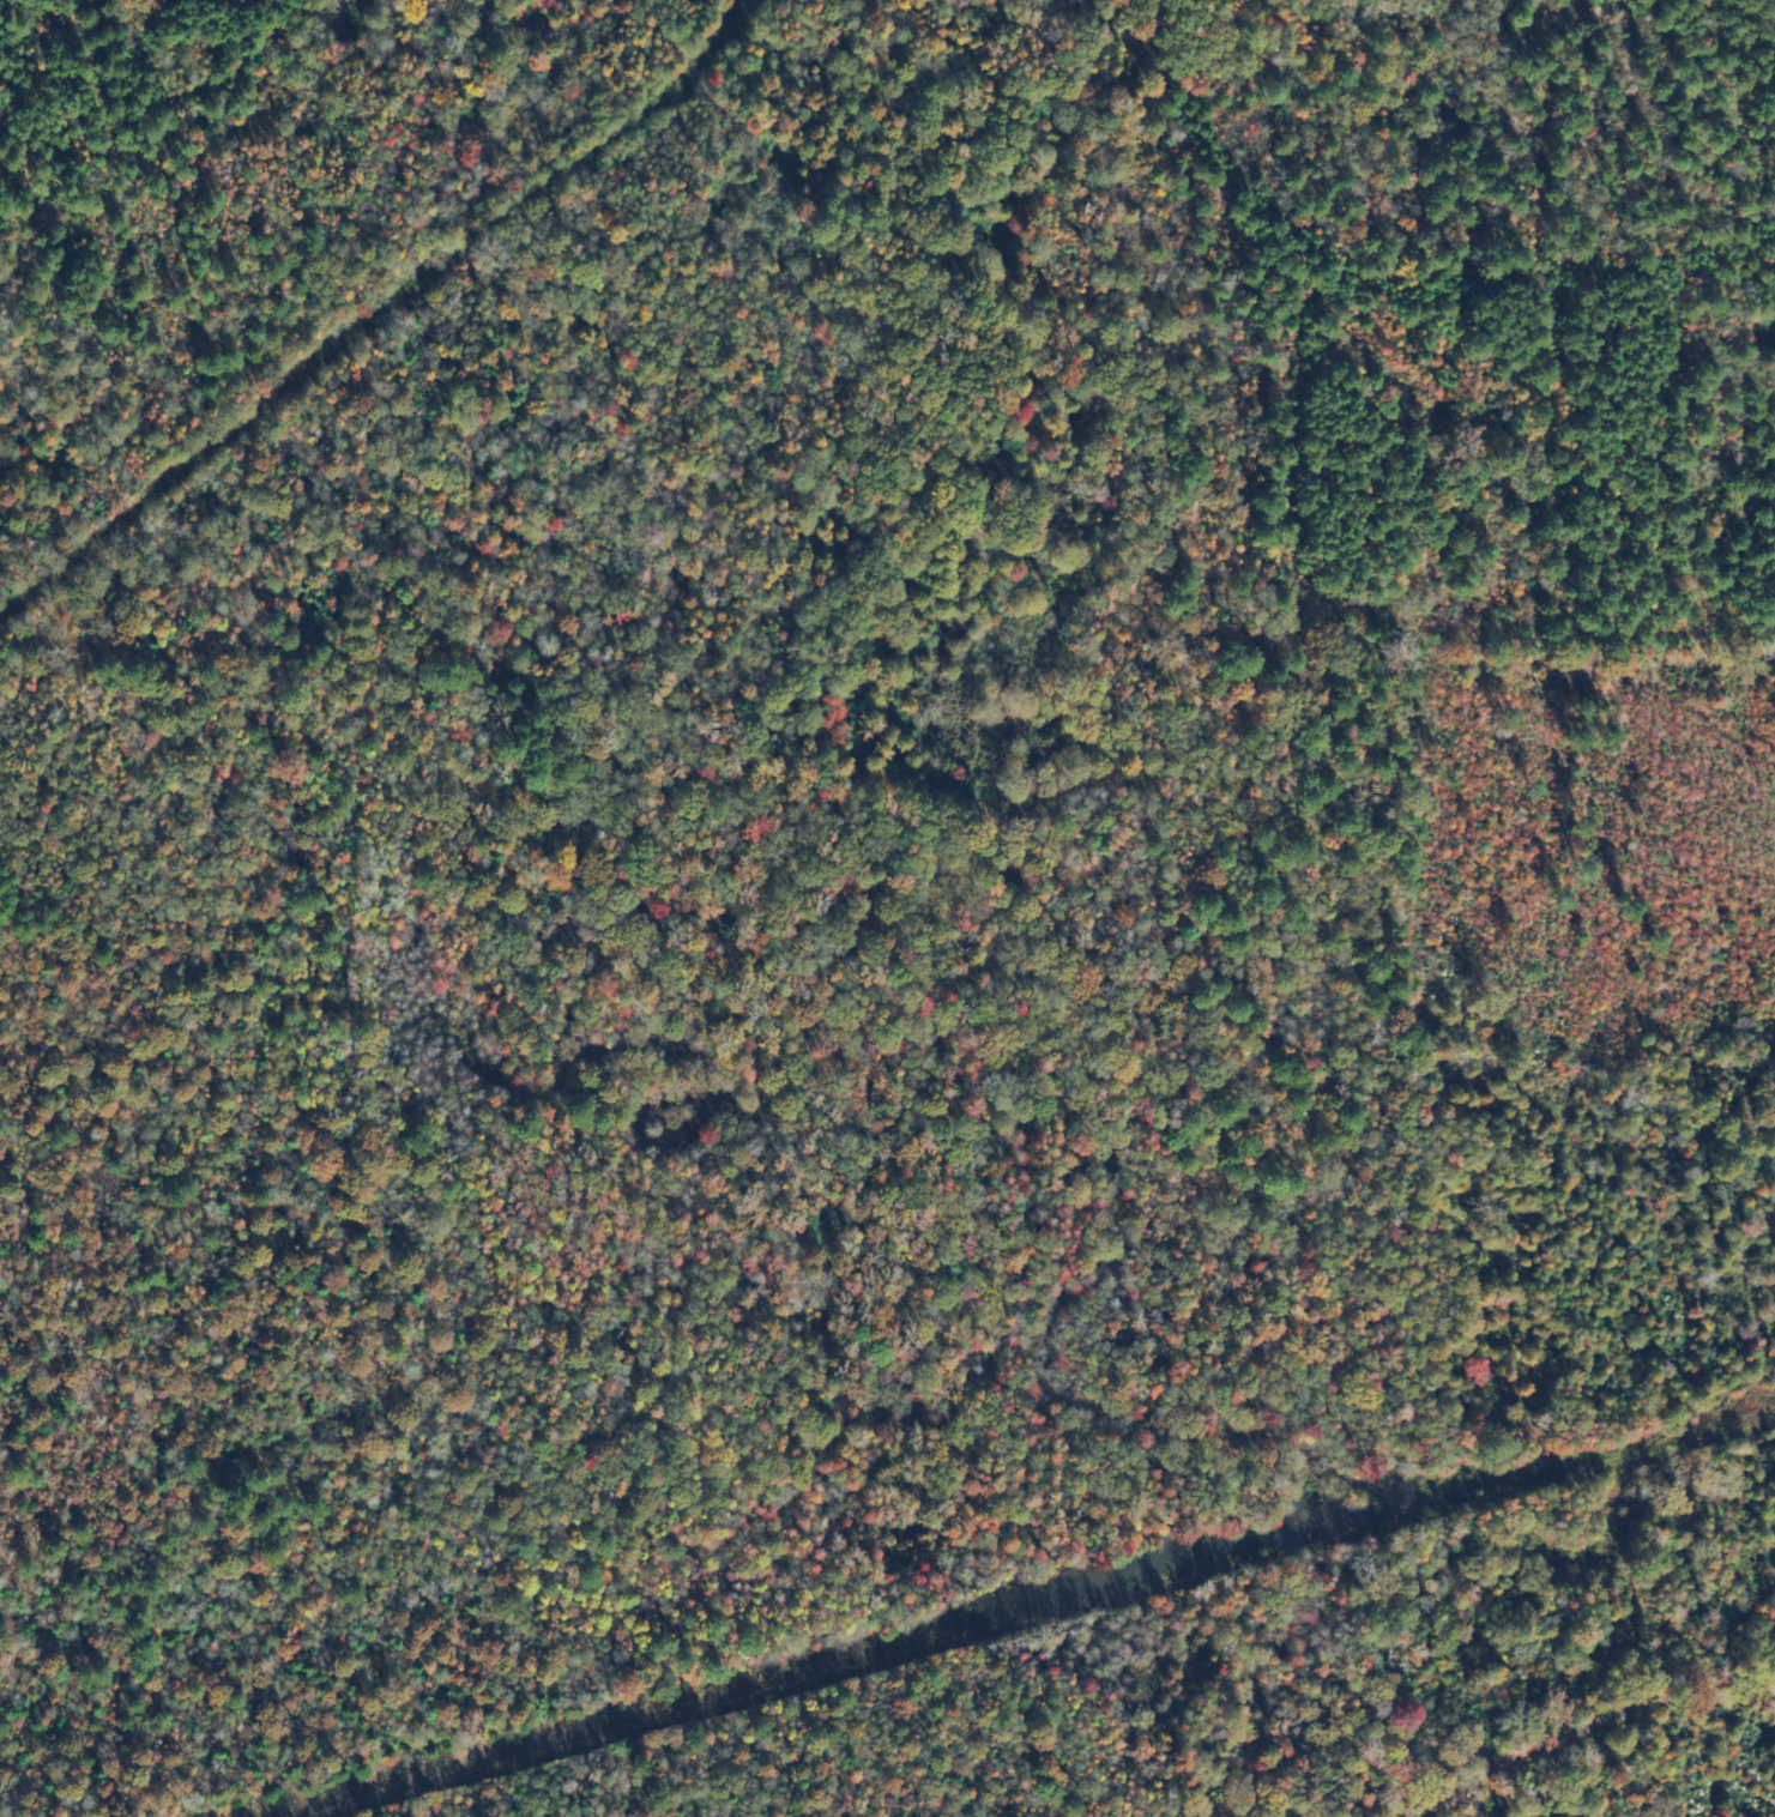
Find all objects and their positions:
road: (1595, 1727)

